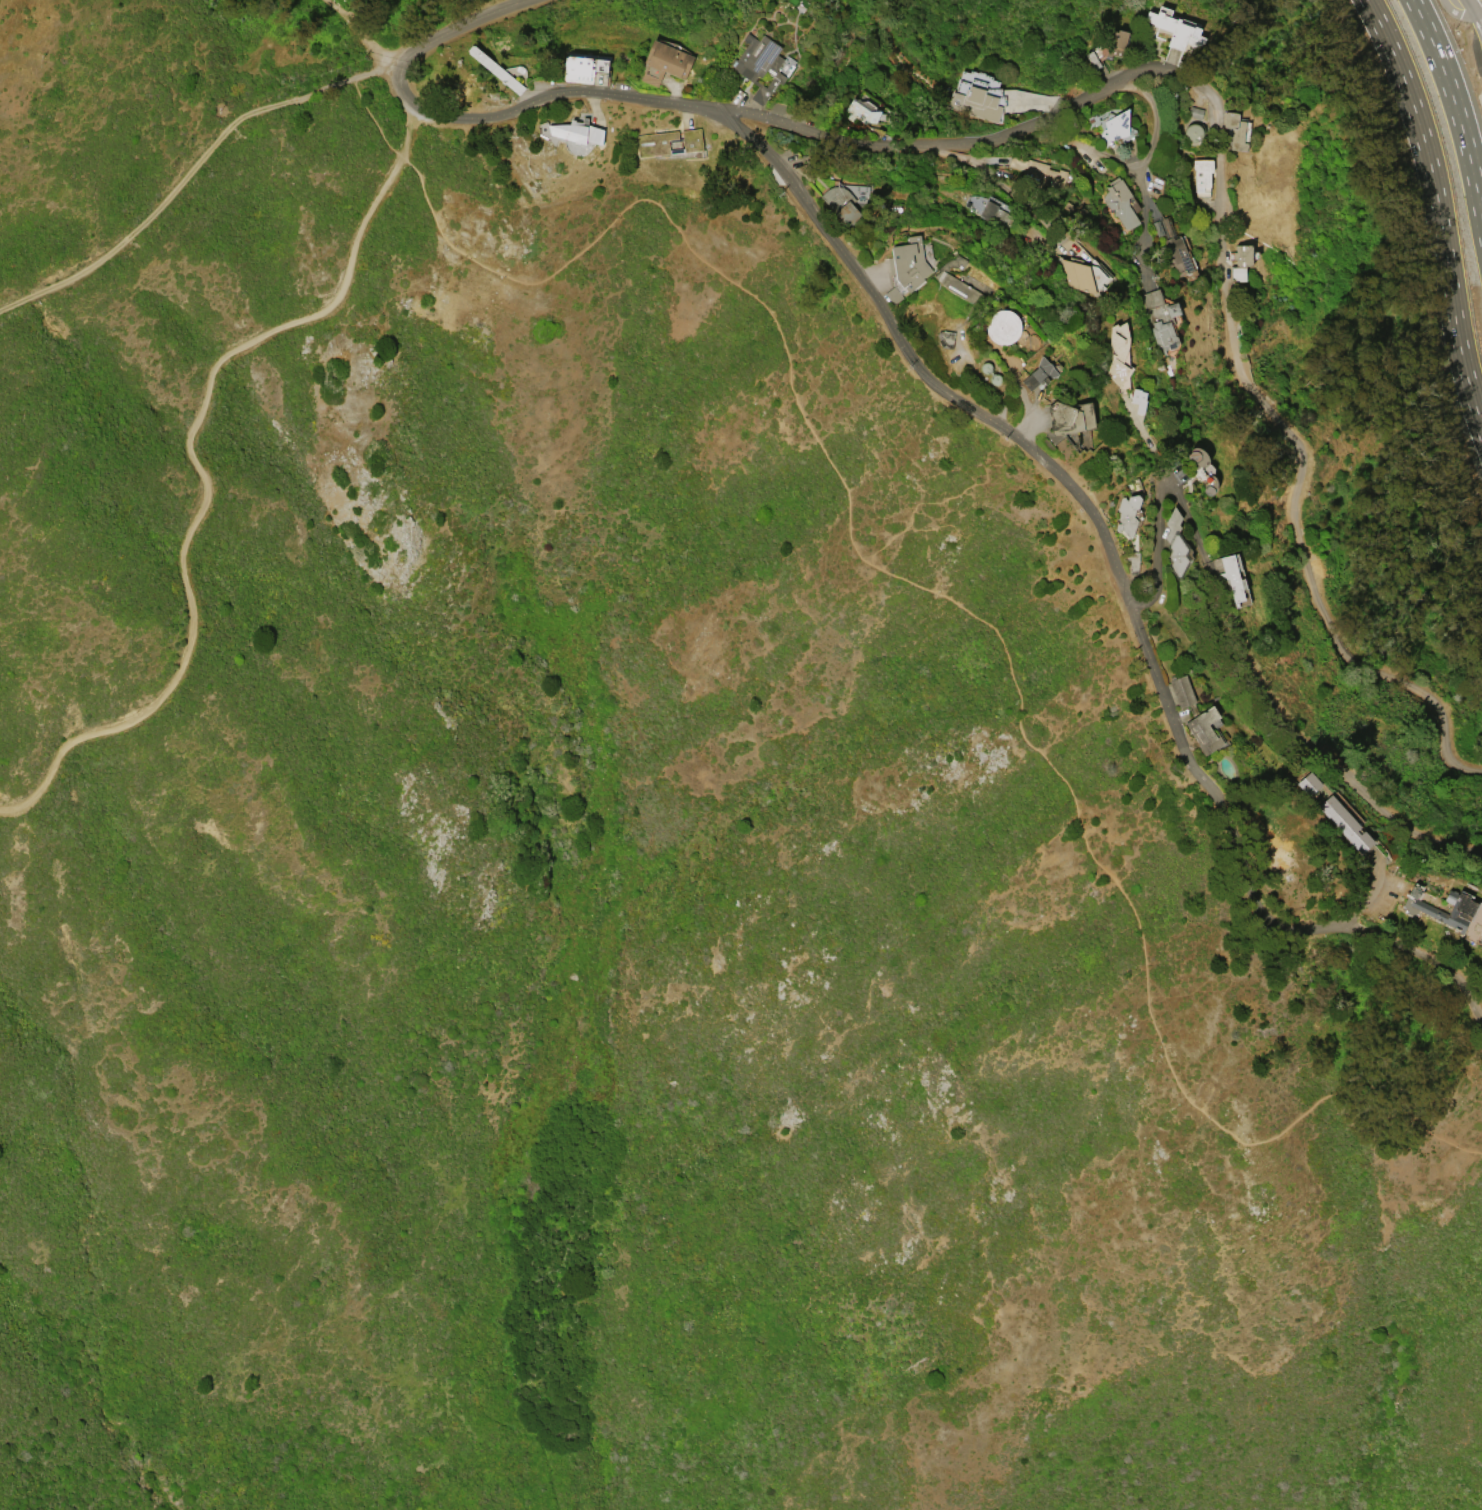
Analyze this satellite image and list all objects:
road: (1454, 12)
road: (1476, 13)
road: (1473, 19)
road: (348, 20)
road: (456, 26)
building: (1175, 29)
building: (1116, 42)
road: (385, 55)
building: (1092, 60)
building: (663, 62)
building: (761, 64)
building: (583, 66)
road: (379, 67)
building: (495, 69)
road: (1171, 72)
building: (976, 95)
road: (1455, 109)
building: (1194, 111)
building: (860, 112)
road: (373, 121)
building: (1111, 124)
road: (404, 128)
building: (1236, 130)
building: (577, 131)
building: (1192, 133)
building: (651, 145)
road: (1124, 161)
road: (191, 168)
building: (1037, 172)
building: (1201, 173)
road: (1008, 189)
building: (845, 198)
building: (1120, 202)
building: (989, 208)
road: (1438, 209)
road: (1144, 221)
building: (1175, 255)
building: (1241, 260)
building: (905, 267)
building: (1081, 275)
building: (955, 279)
building: (1160, 319)
building: (1000, 329)
building: (945, 338)
building: (1118, 355)
building: (1038, 374)
building: (1138, 399)
building: (1069, 417)
road: (1147, 440)
building: (1202, 470)
road: (208, 490)
building: (1126, 514)
building: (1174, 542)
building: (1132, 561)
road: (1113, 565)
building: (1232, 576)
road: (967, 613)
road: (1246, 649)
building: (1180, 690)
building: (1204, 730)
building: (1308, 783)
building: (1344, 823)
road: (1366, 899)
building: (1450, 911)

